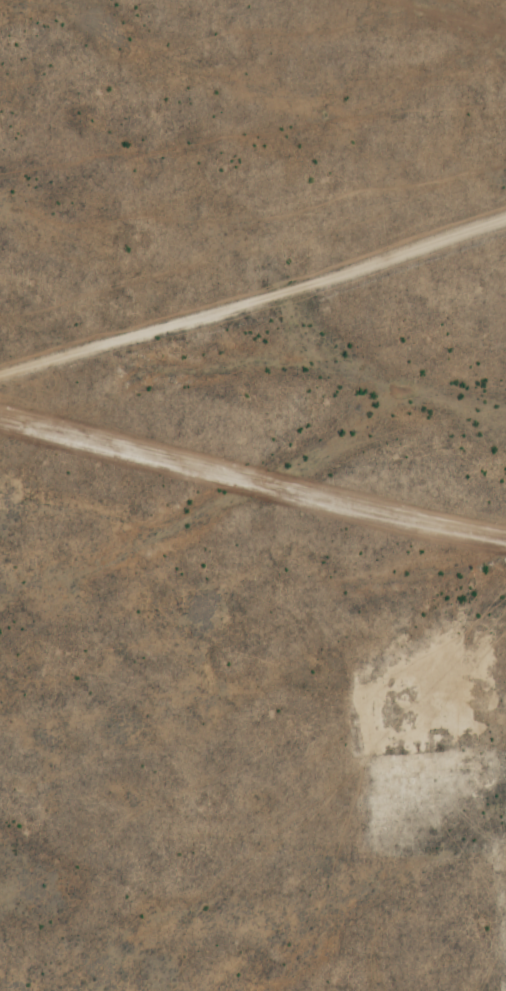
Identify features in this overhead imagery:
road: (253, 299)

